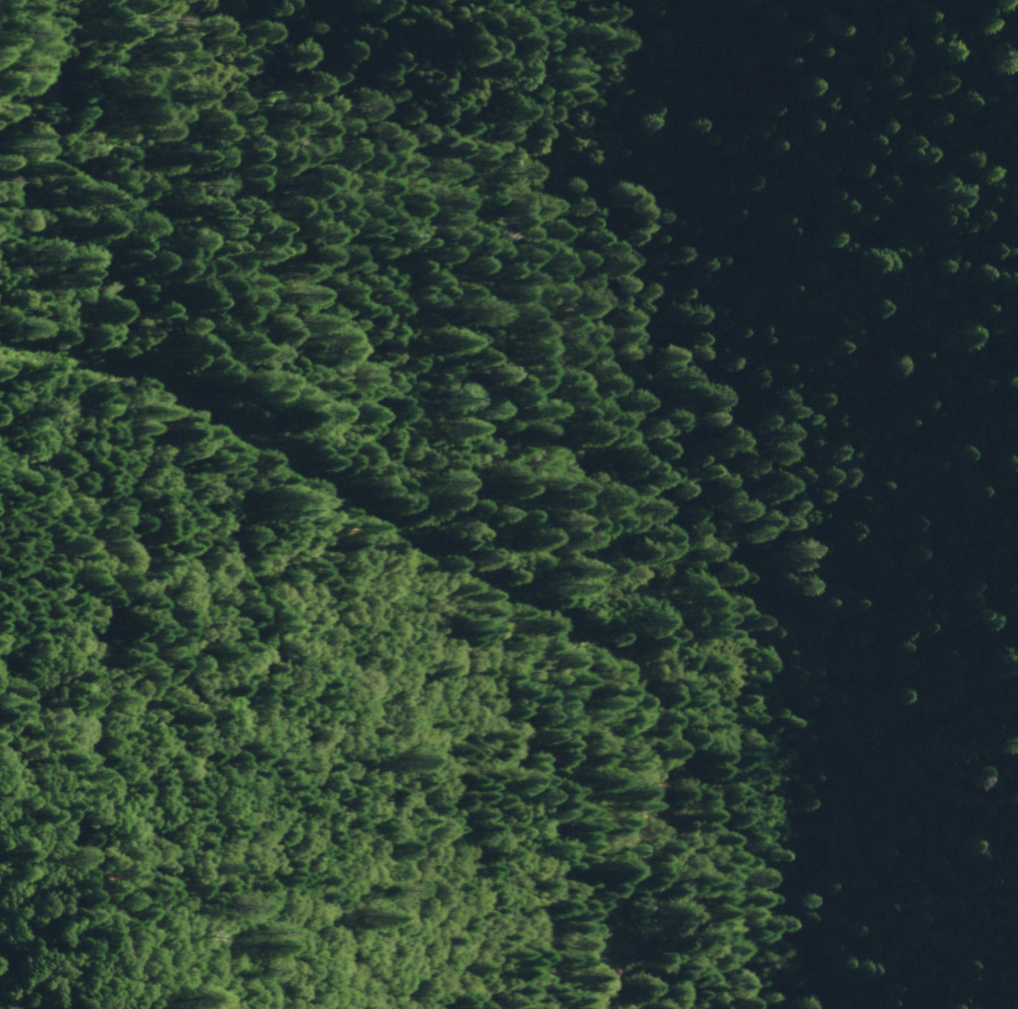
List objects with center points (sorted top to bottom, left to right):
road: (191, 161)

